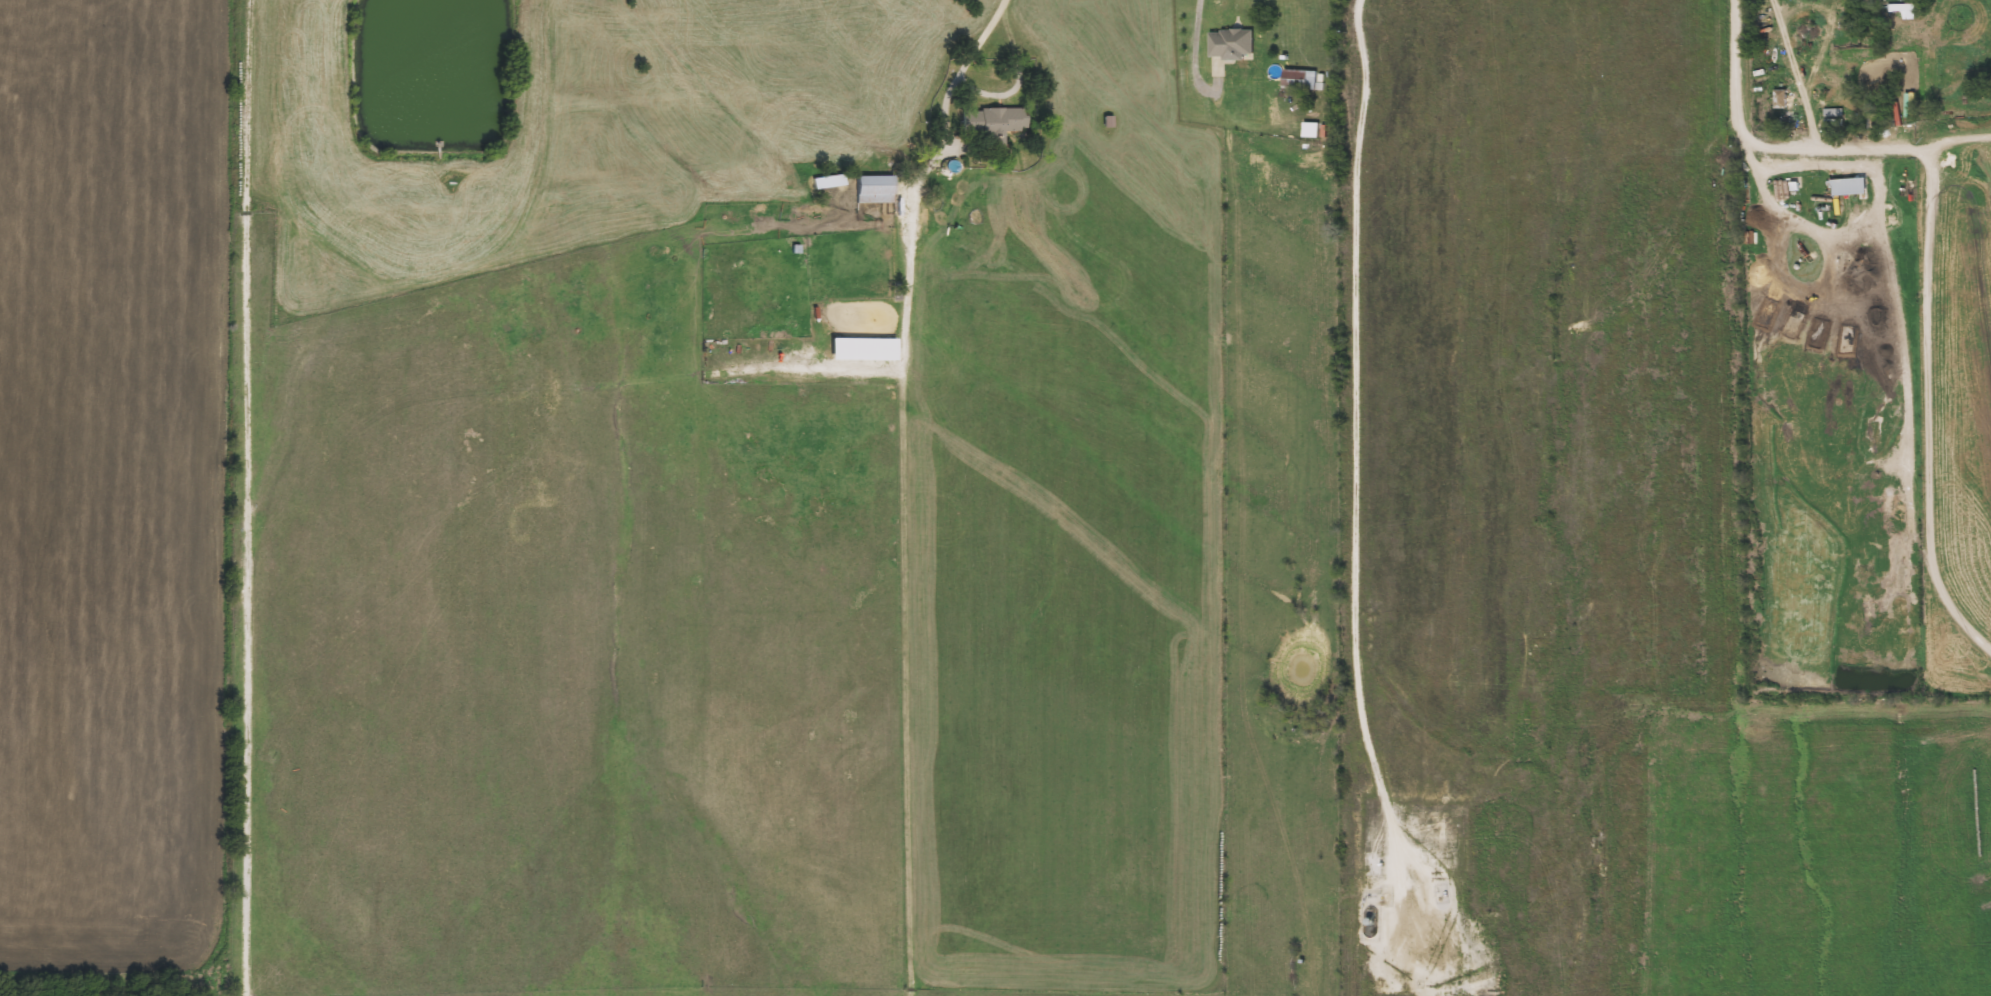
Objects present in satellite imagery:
building: (1902, 11)
building: (1231, 43)
road: (1193, 51)
building: (1299, 79)
building: (1781, 98)
building: (1833, 118)
building: (991, 123)
road: (1783, 146)
road: (923, 171)
building: (832, 176)
building: (1849, 186)
building: (872, 189)
building: (861, 349)
road: (1354, 440)
road: (246, 497)

